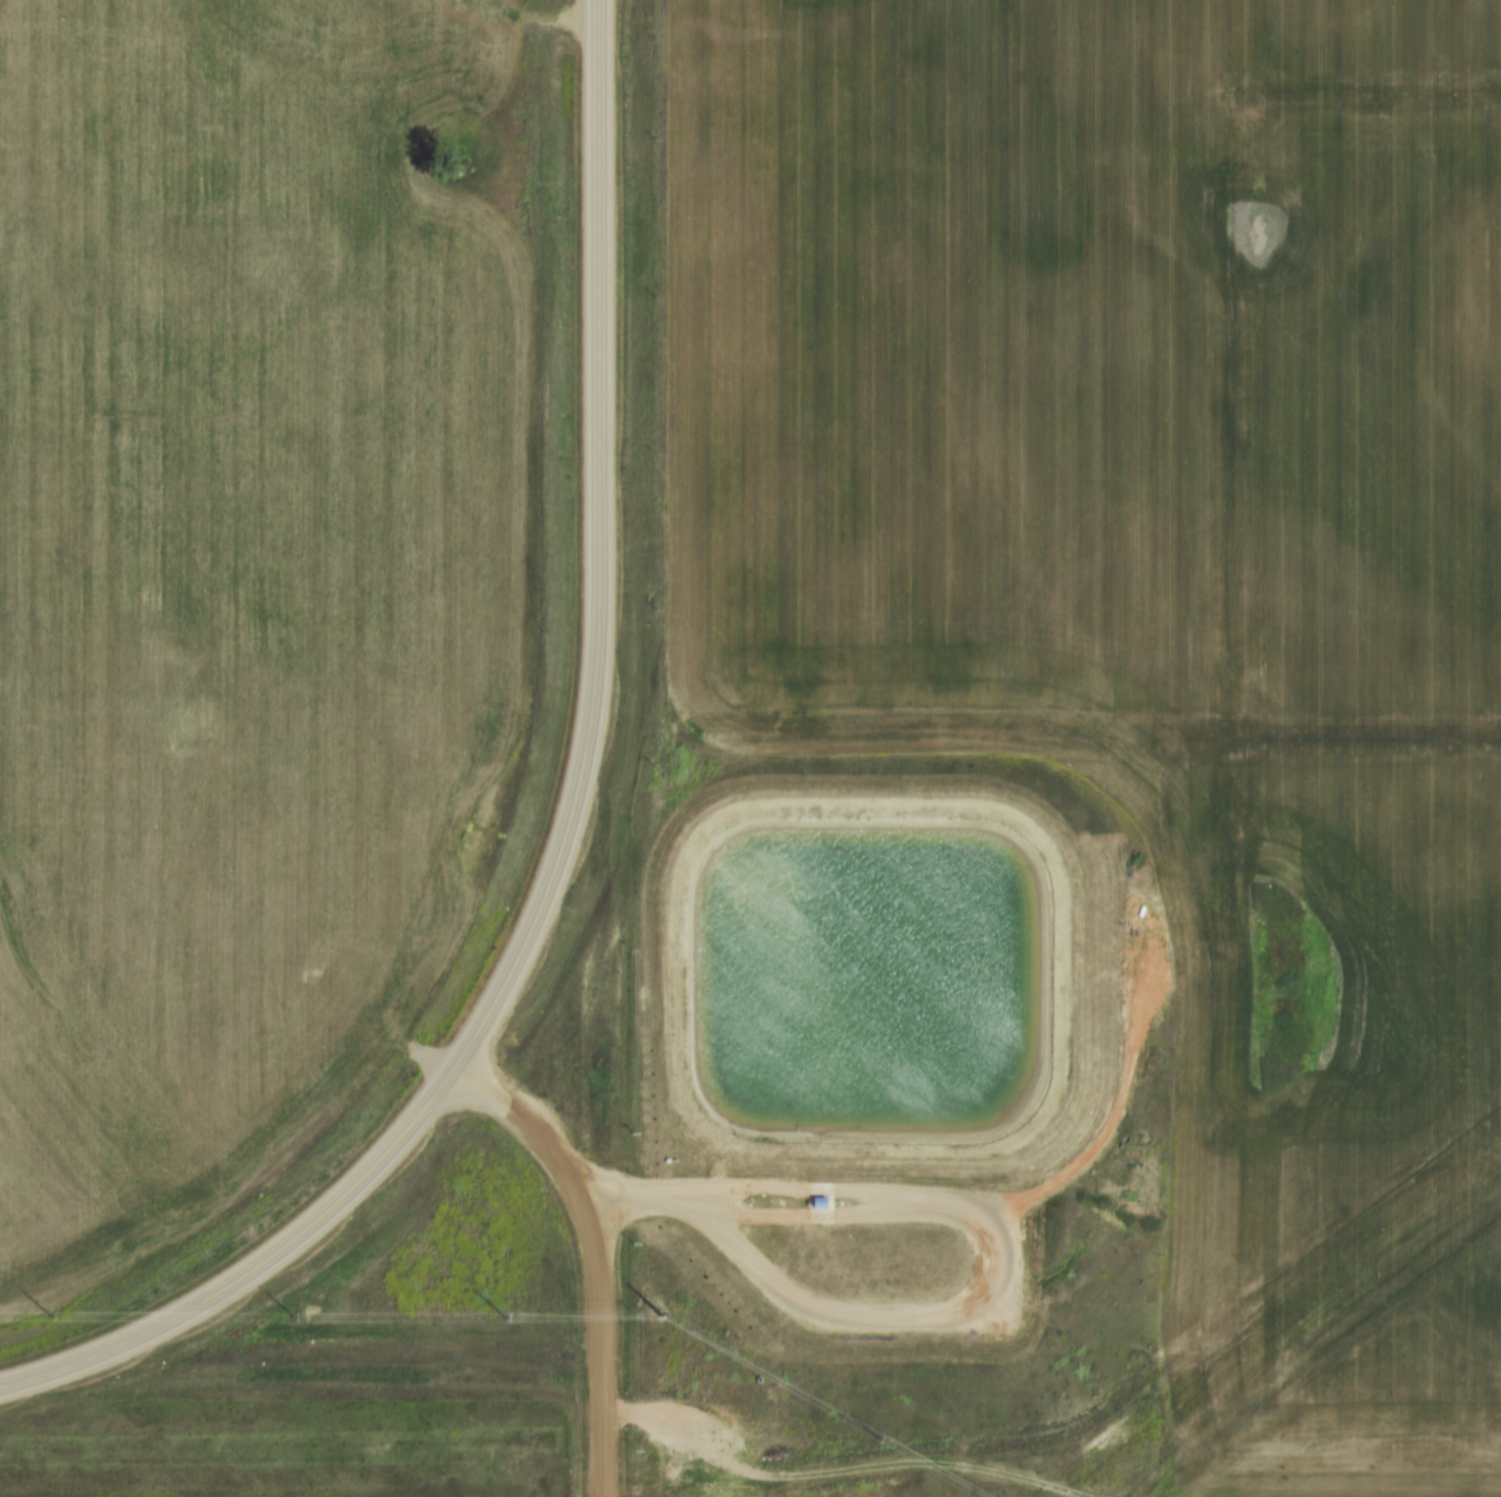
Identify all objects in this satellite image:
road: (596, 392)
road: (392, 1138)
building: (815, 1202)
road: (996, 1238)
road: (593, 1252)
road: (32, 1374)
road: (848, 1451)

